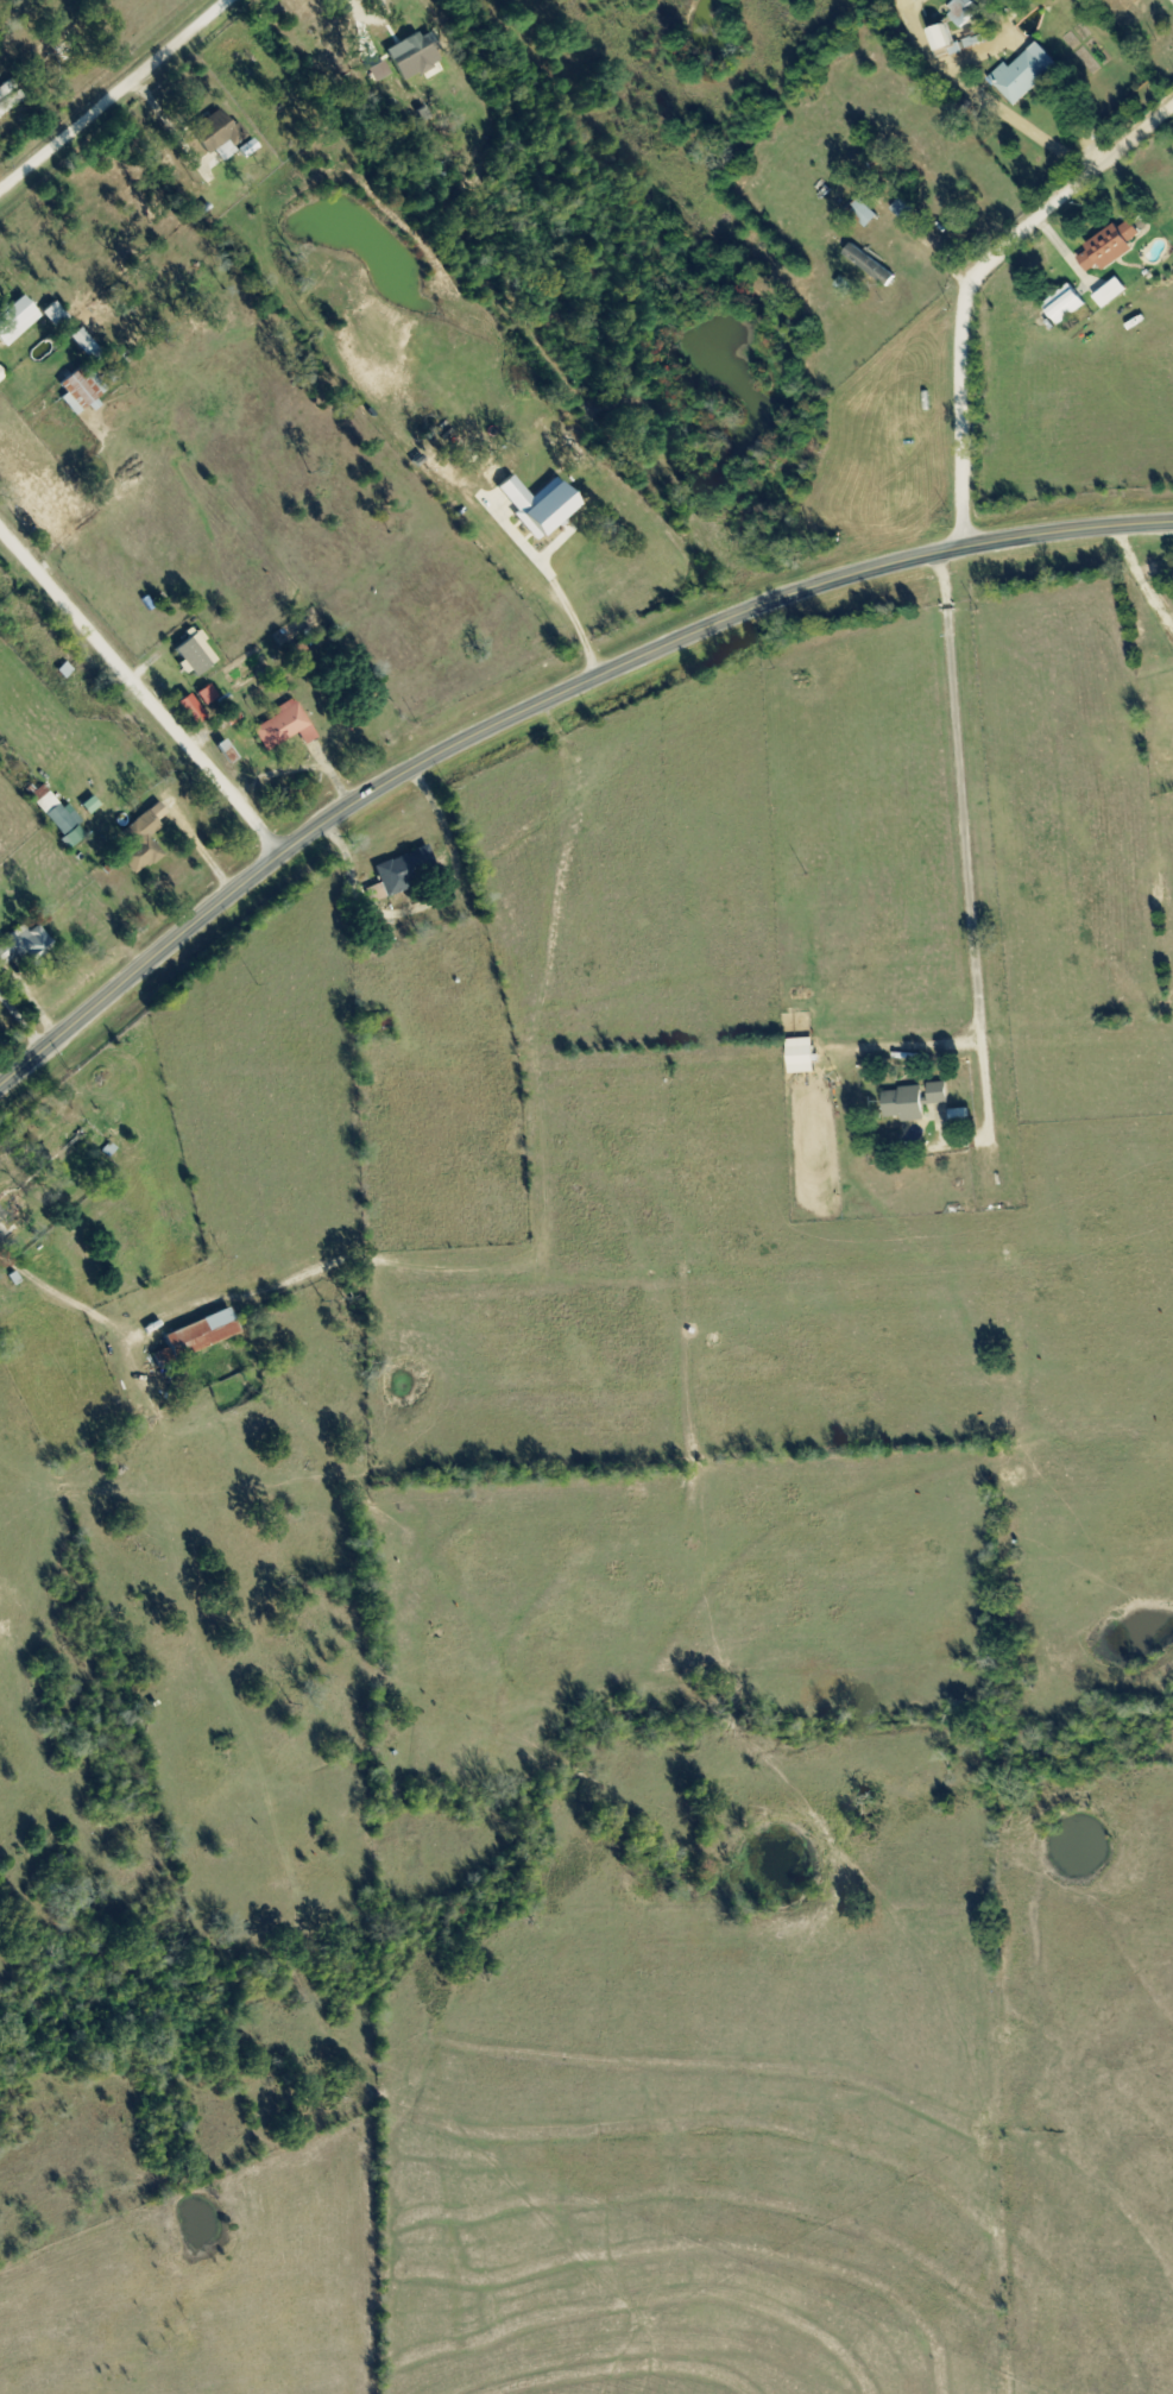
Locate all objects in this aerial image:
building: (939, 38)
building: (409, 51)
building: (1022, 74)
road: (114, 93)
building: (8, 96)
building: (214, 133)
building: (901, 209)
building: (860, 214)
building: (1106, 247)
building: (868, 266)
road: (971, 281)
building: (1109, 294)
building: (1061, 304)
building: (53, 315)
building: (14, 319)
building: (81, 388)
road: (140, 691)
road: (540, 701)
building: (282, 726)
building: (58, 817)
building: (141, 839)
building: (403, 872)
building: (21, 944)
building: (378, 1023)
building: (910, 1101)
building: (957, 1119)
building: (62, 1136)
building: (6, 1208)
building: (200, 1335)

